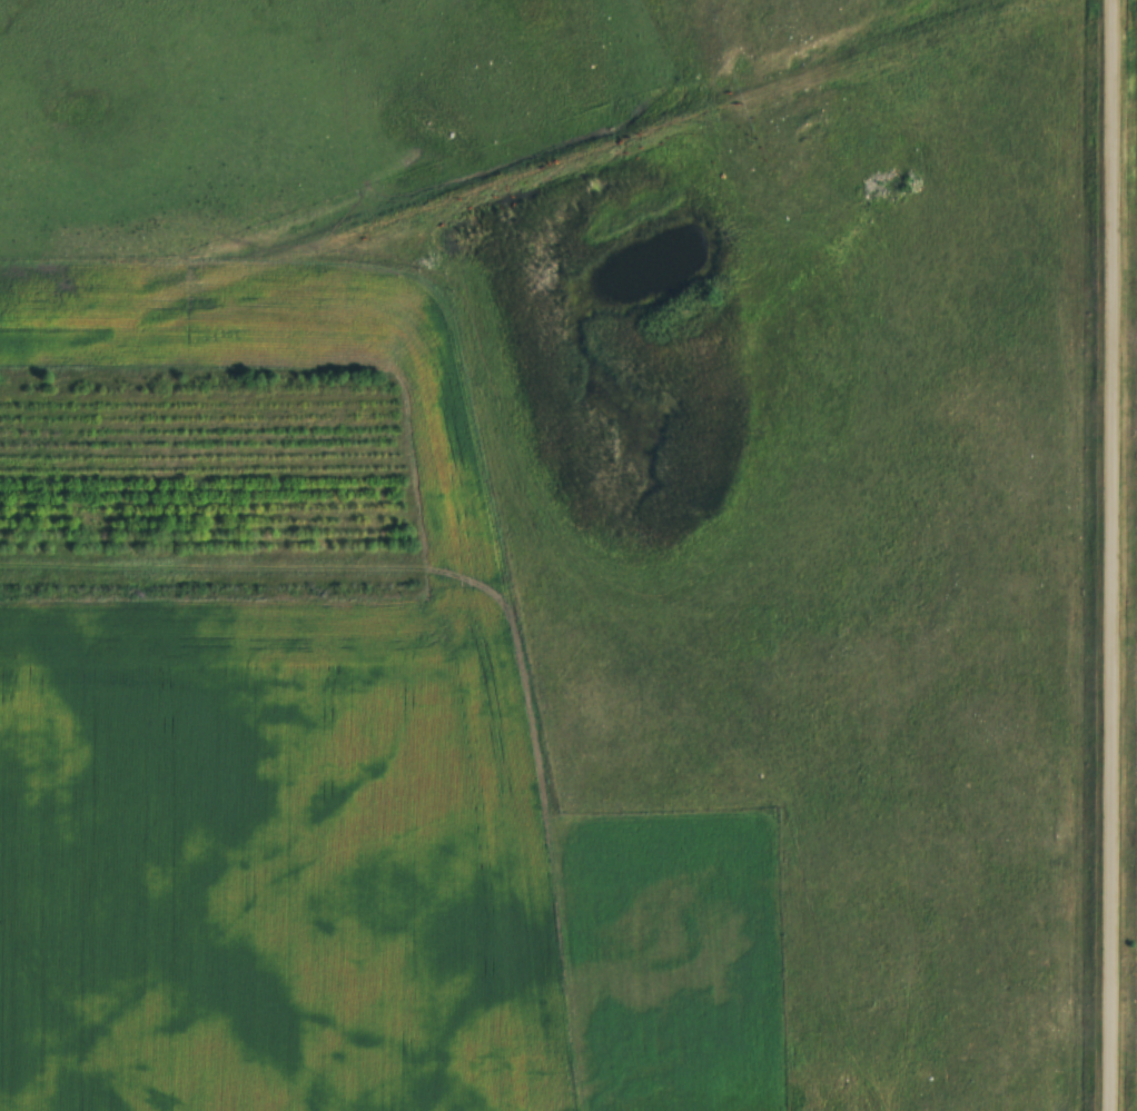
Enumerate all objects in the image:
road: (1119, 555)

